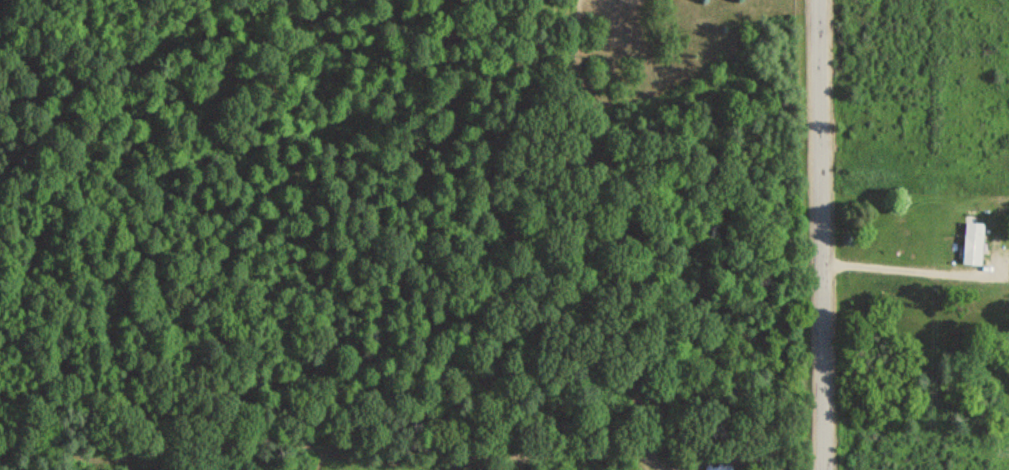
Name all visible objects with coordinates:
road: (820, 234)
building: (966, 240)
road: (918, 267)

